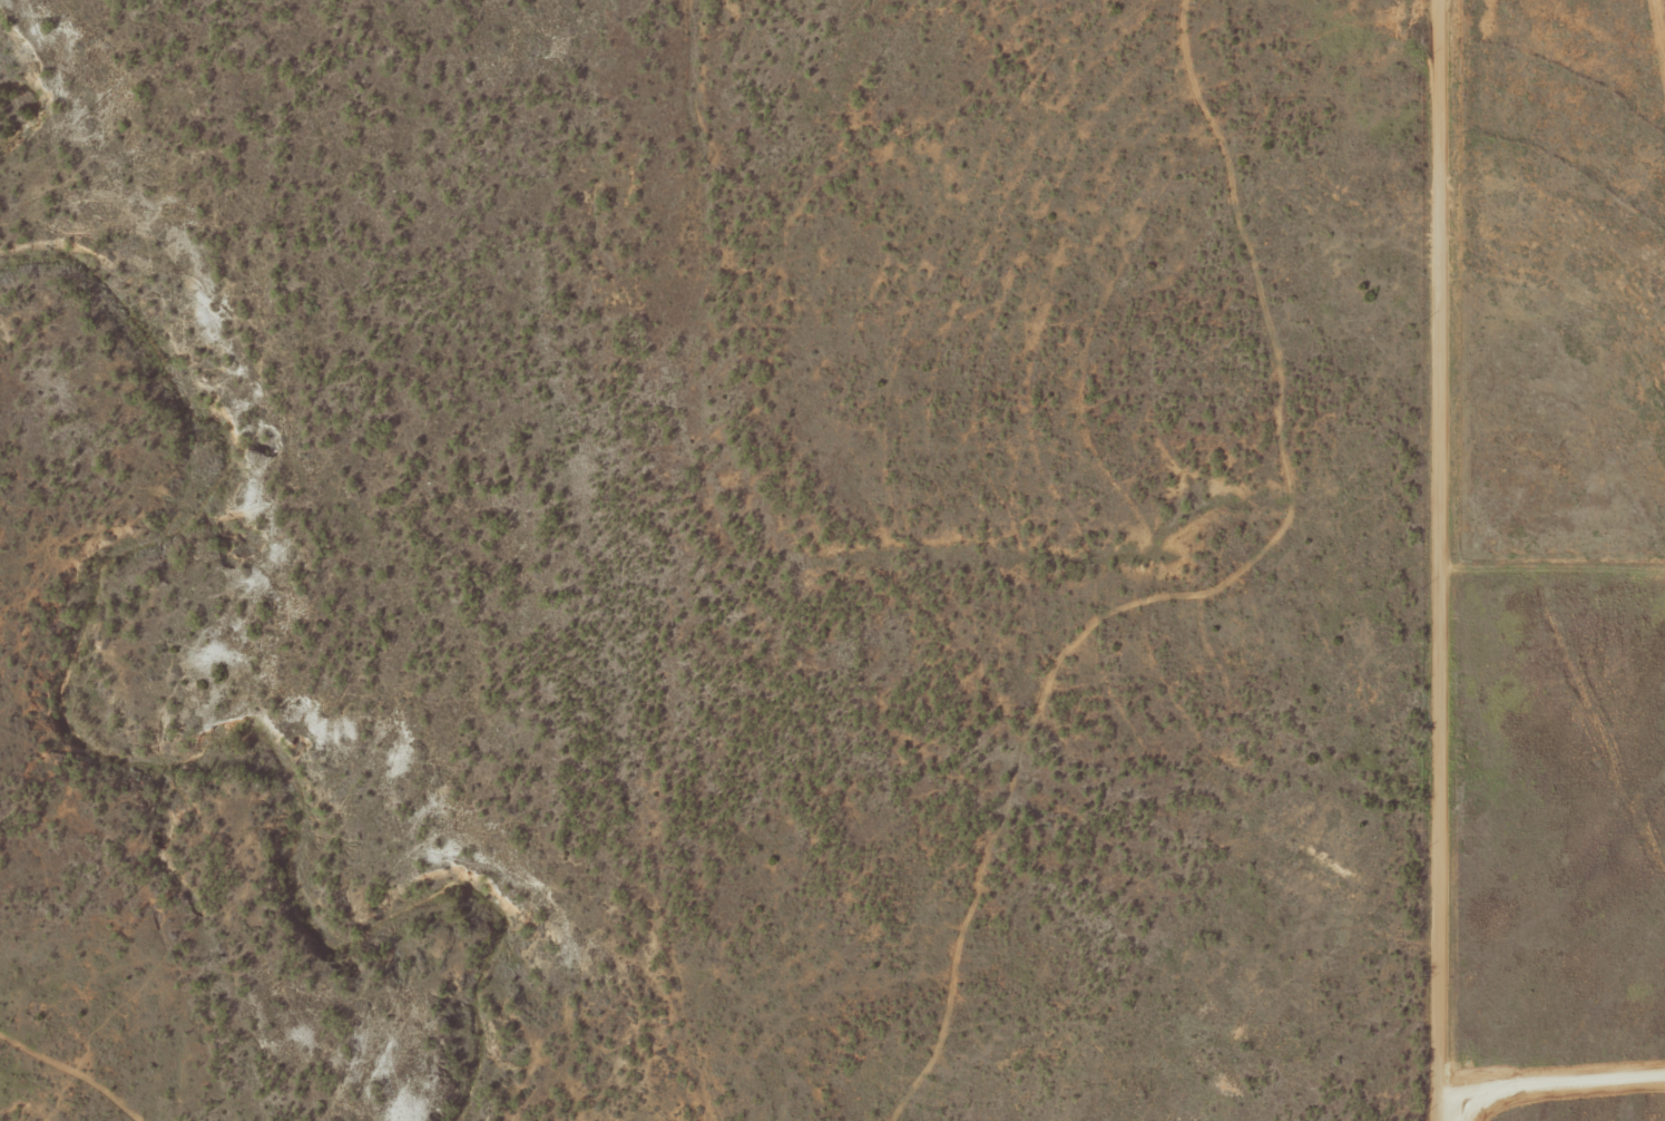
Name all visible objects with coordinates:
road: (1472, 559)
road: (1569, 569)

